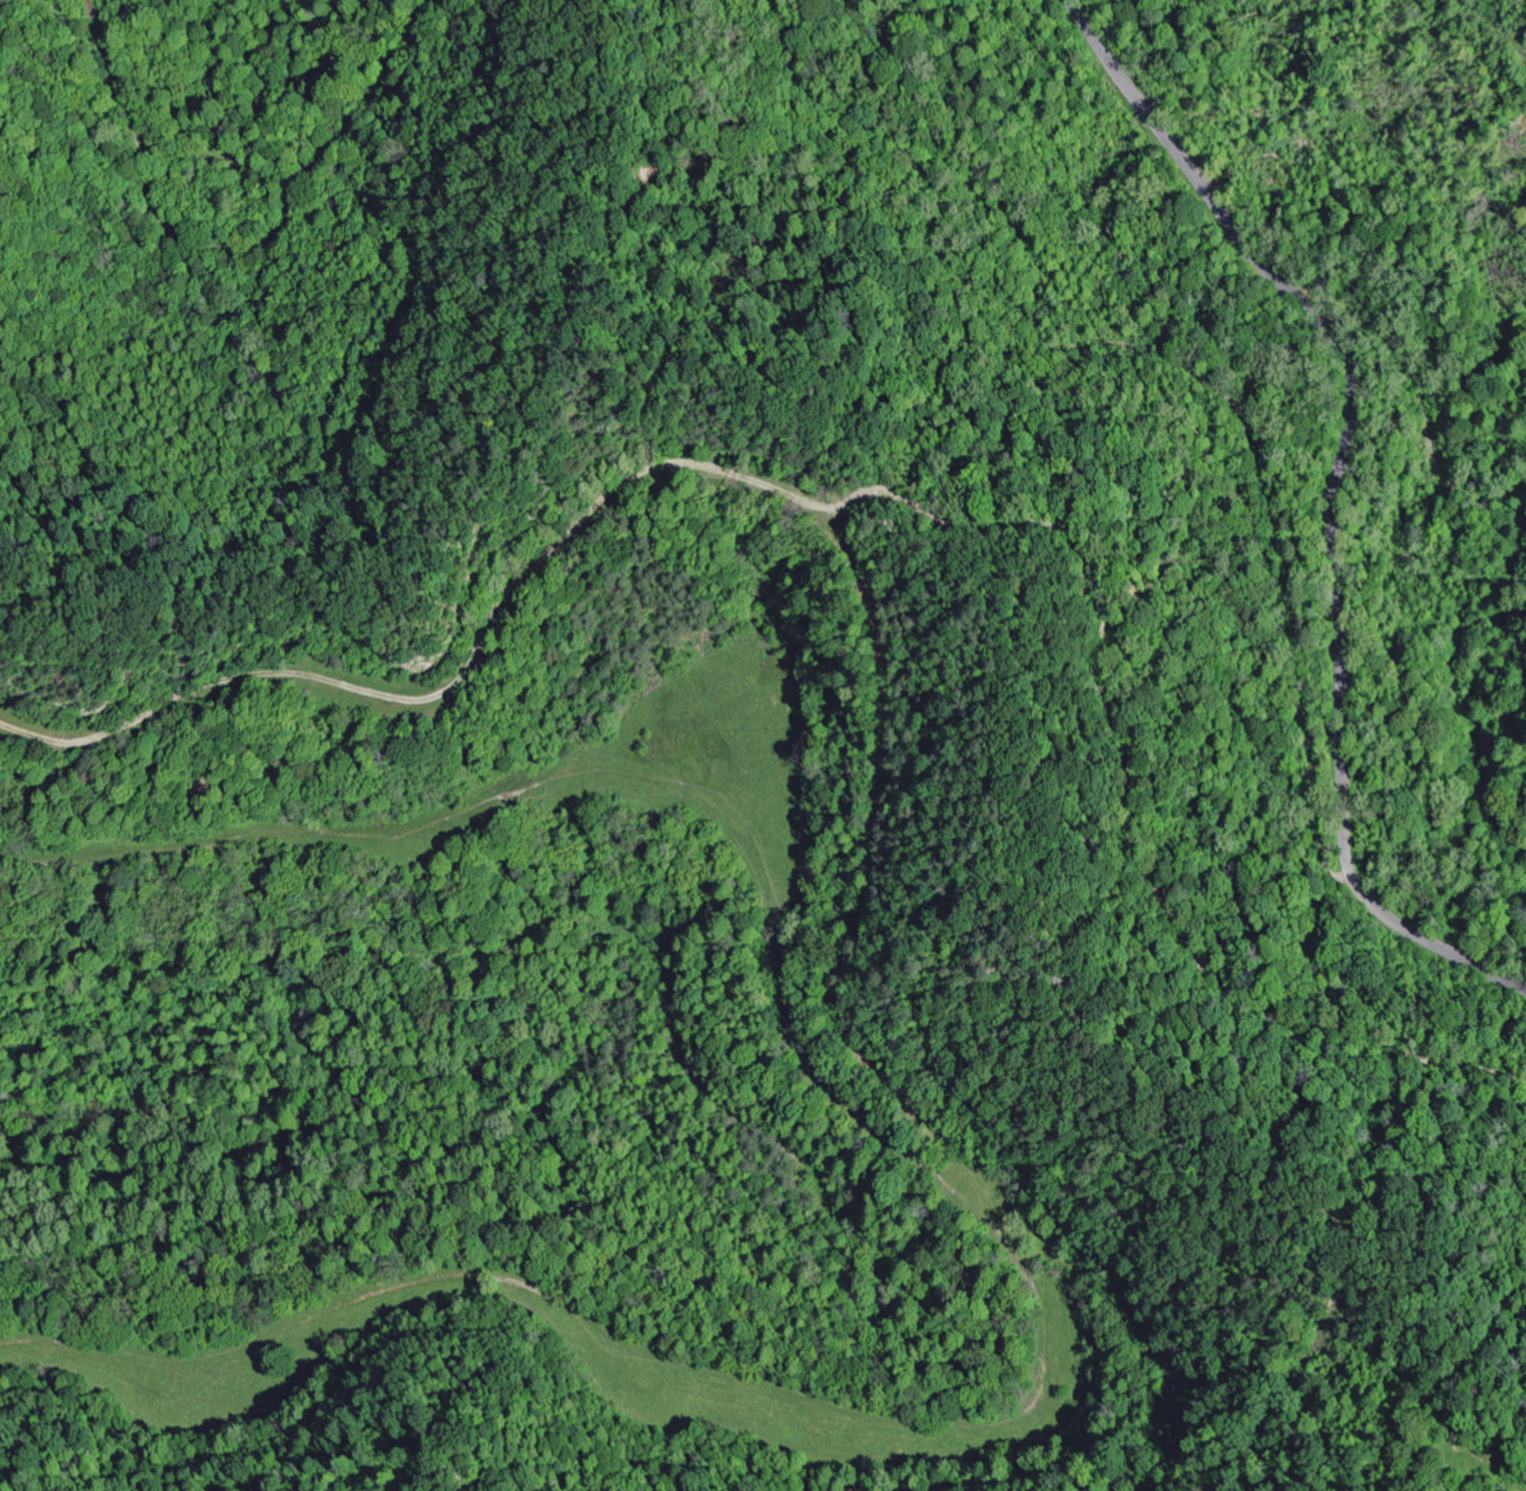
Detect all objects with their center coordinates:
road: (1332, 497)

